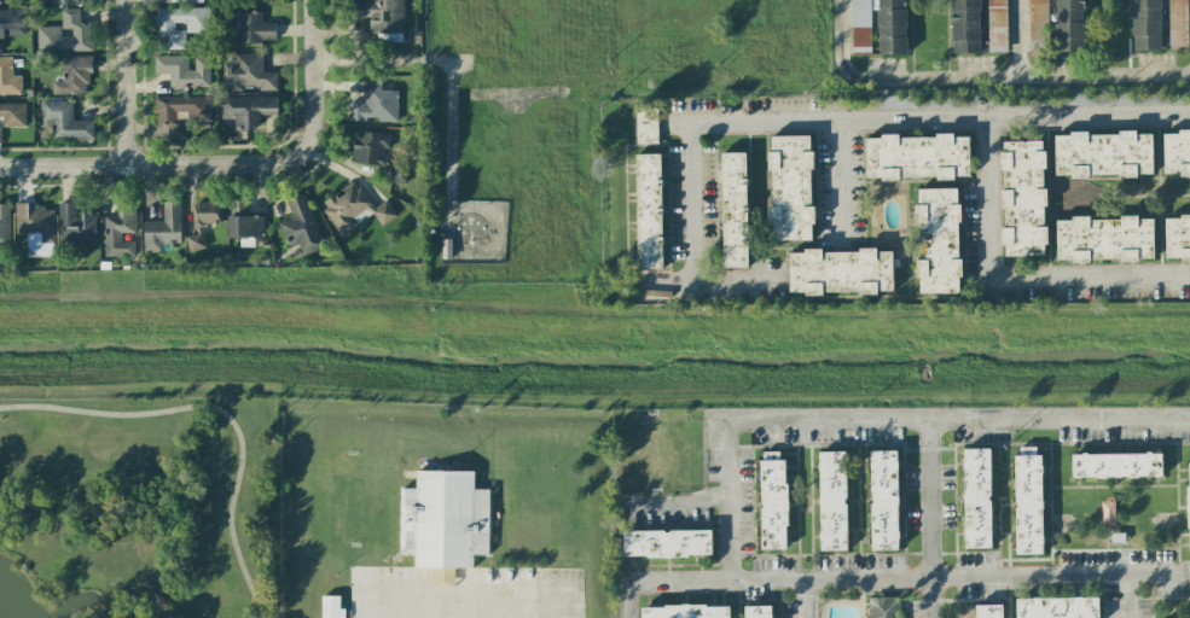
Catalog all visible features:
building: (65, 1)
building: (169, 1)
building: (383, 18)
building: (12, 23)
building: (1178, 23)
building: (179, 24)
building: (1147, 24)
building: (880, 25)
building: (997, 25)
building: (1038, 25)
building: (1069, 25)
building: (251, 27)
building: (965, 27)
building: (65, 34)
road: (1018, 37)
road: (388, 60)
building: (182, 70)
building: (246, 72)
building: (74, 76)
road: (980, 76)
building: (8, 77)
road: (127, 83)
building: (904, 101)
building: (375, 105)
building: (246, 109)
building: (180, 112)
building: (12, 115)
road: (924, 117)
building: (65, 121)
road: (448, 128)
building: (0, 142)
building: (1176, 152)
building: (377, 154)
building: (1103, 154)
building: (917, 157)
road: (232, 165)
road: (840, 182)
building: (790, 187)
building: (1022, 198)
road: (692, 202)
building: (354, 209)
building: (733, 210)
building: (649, 211)
building: (207, 212)
building: (244, 223)
building: (4, 225)
building: (75, 225)
building: (300, 226)
building: (35, 228)
building: (162, 228)
building: (120, 229)
building: (1177, 238)
building: (1104, 239)
building: (938, 240)
building: (195, 241)
building: (840, 272)
road: (1009, 278)
road: (708, 281)
road: (217, 412)
road: (958, 420)
building: (1116, 465)
building: (976, 497)
building: (773, 500)
building: (883, 500)
building: (1028, 500)
road: (727, 501)
building: (832, 501)
building: (1188, 502)
road: (674, 507)
park: (138, 508)
road: (929, 519)
building: (443, 520)
building: (667, 542)
road: (1060, 577)
road: (777, 581)
road: (1126, 596)
road: (452, 597)
road: (801, 599)
road: (625, 600)
building: (331, 606)
road: (509, 607)
building: (884, 607)
building: (1057, 607)
road: (375, 608)
building: (684, 611)
building: (759, 611)
building: (989, 611)

